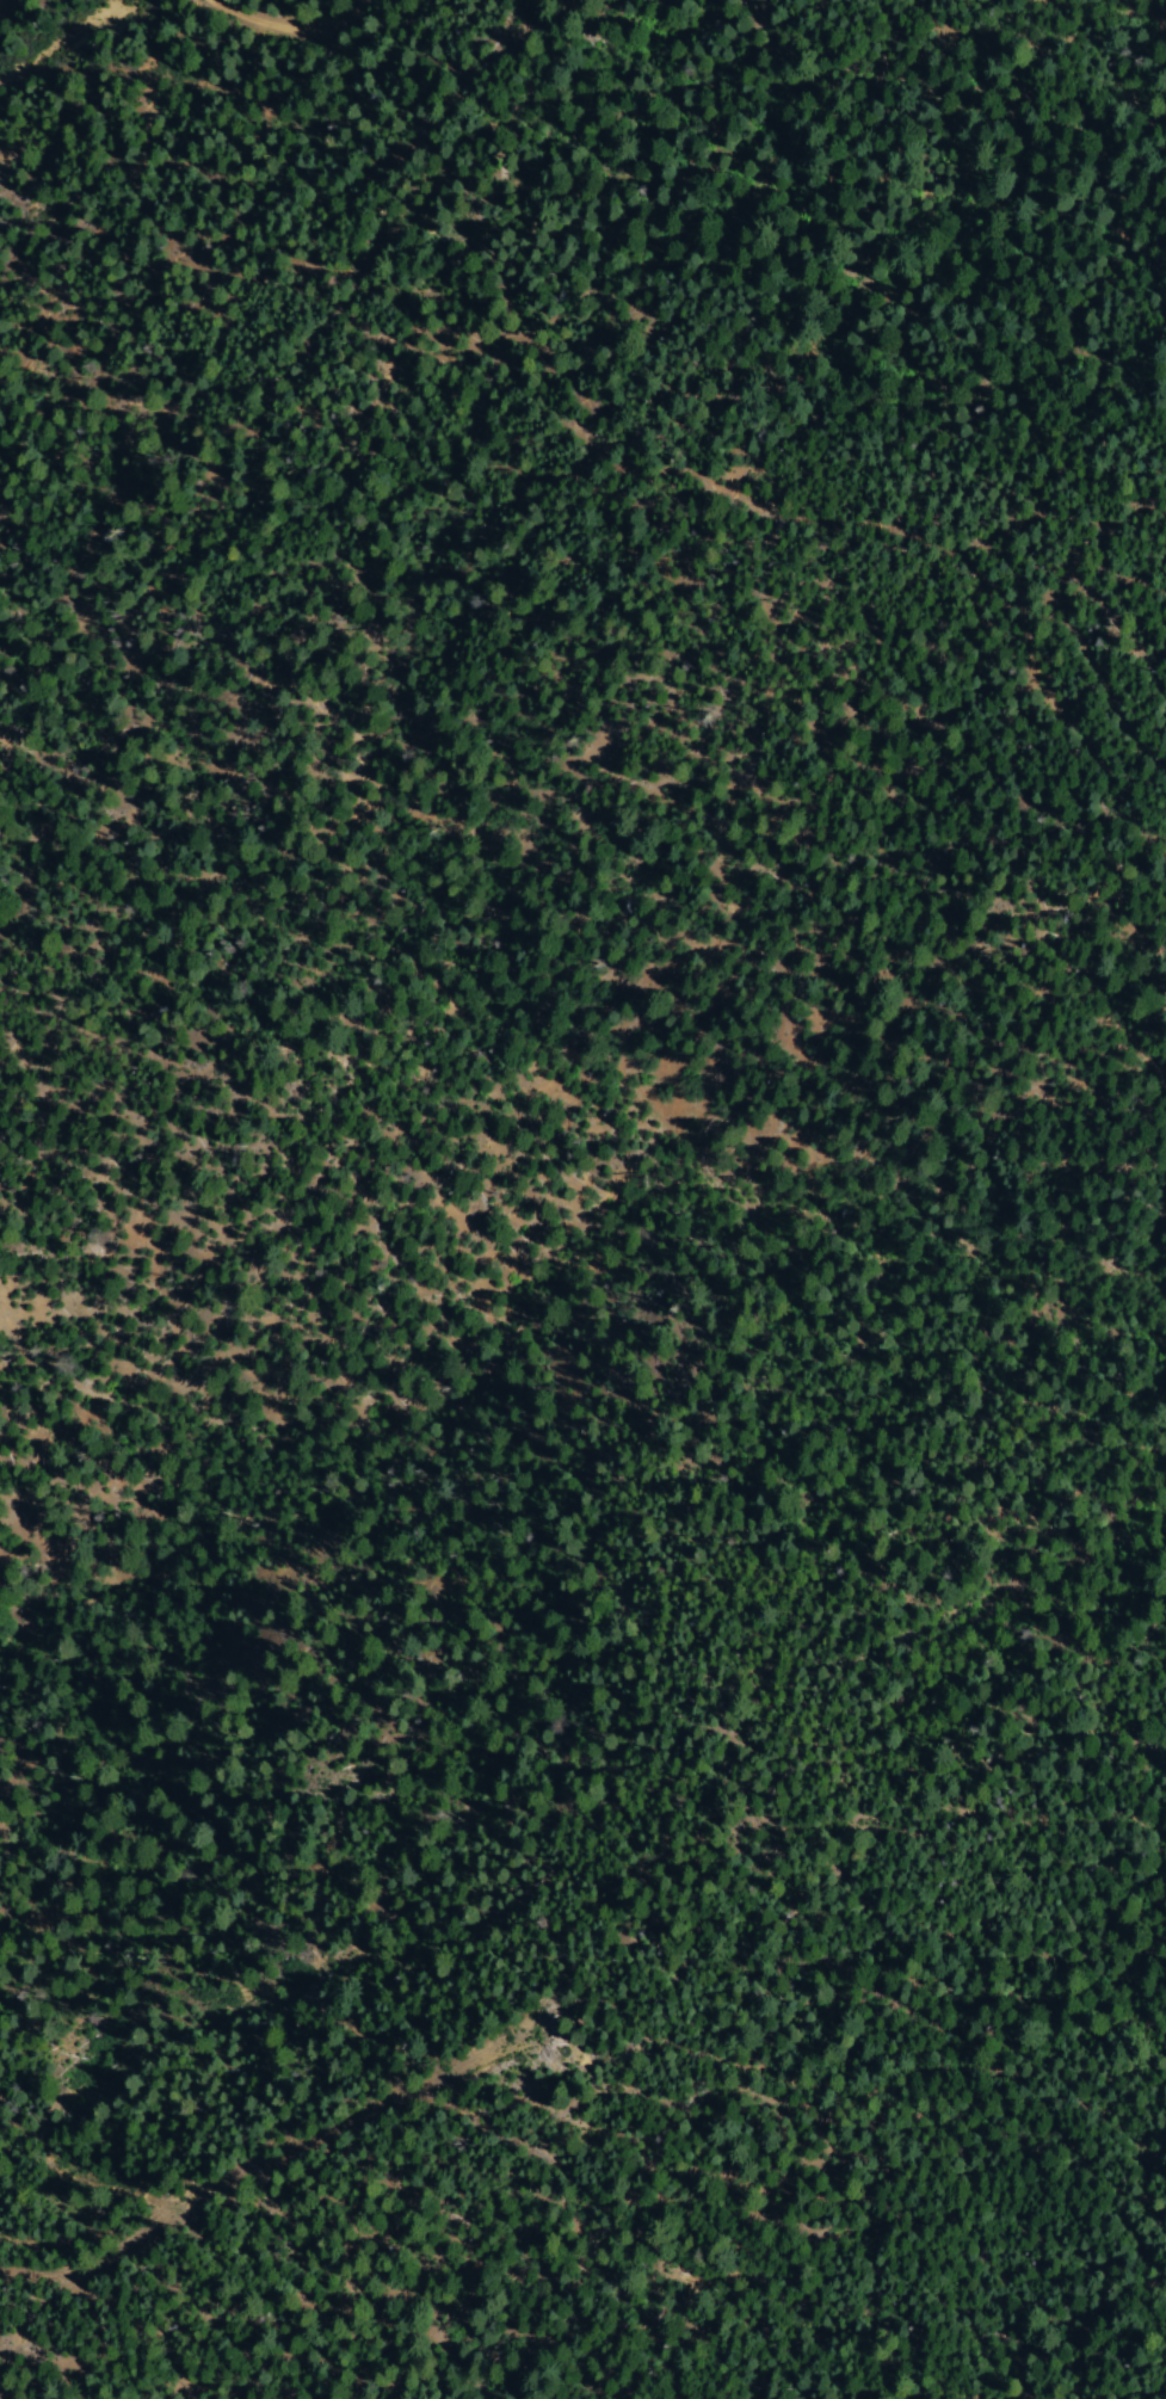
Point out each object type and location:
road: (177, 41)

